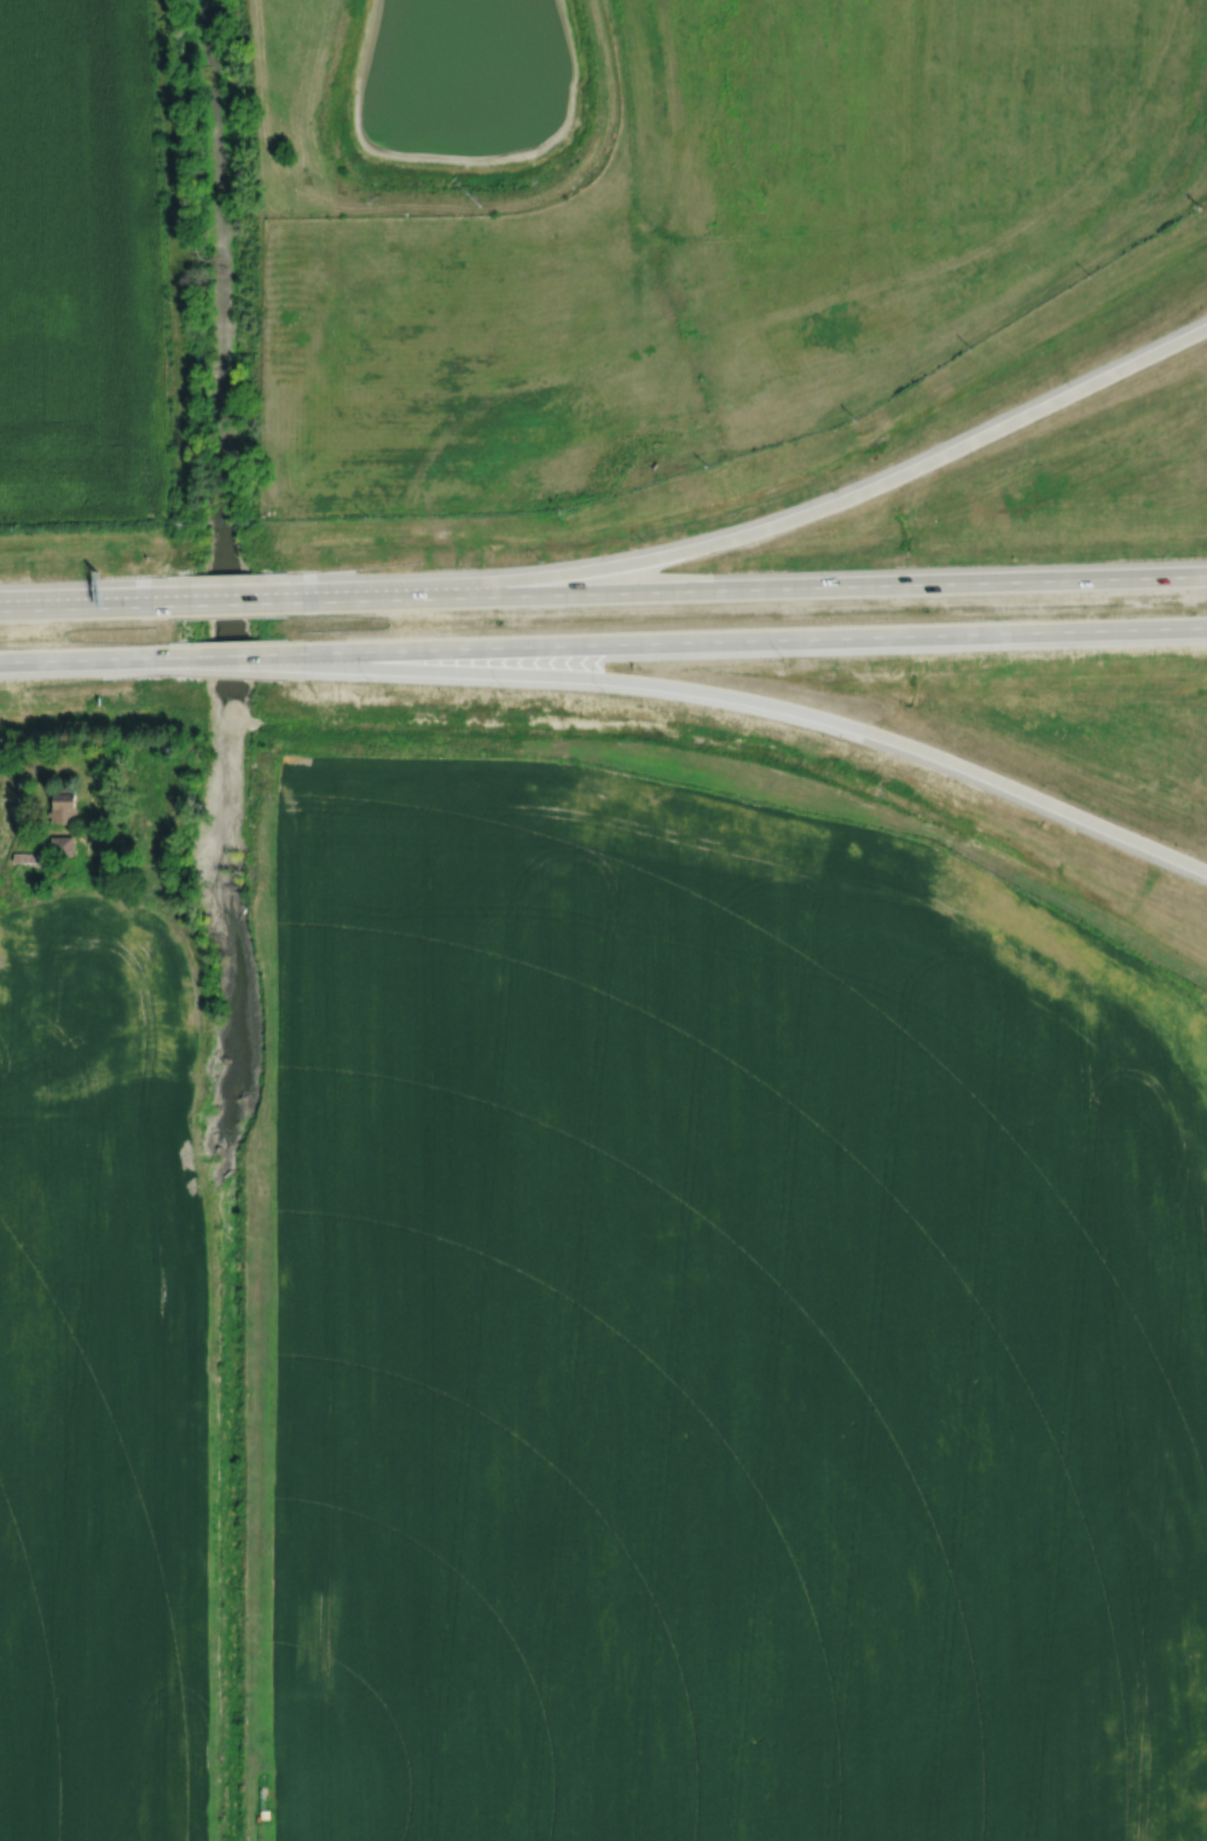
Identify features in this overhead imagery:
road: (916, 110)
road: (431, 207)
road: (633, 214)
road: (936, 219)
crop: (82, 266)
road: (772, 525)
street lamp: (648, 542)
street lamp: (542, 557)
street lamp: (407, 566)
road: (754, 587)
road: (227, 603)
road: (75, 606)
road: (75, 608)
road: (754, 638)
road: (219, 655)
road: (68, 658)
street lamp: (787, 662)
street lamp: (376, 688)
street lamp: (505, 693)
street lamp: (609, 701)
road: (768, 704)
building: (0, 765)
building: (63, 806)
road: (8, 828)
building: (62, 844)
building: (30, 857)
building: (4, 1006)
crop: (724, 1327)
crop: (101, 1377)
building: (263, 1813)

